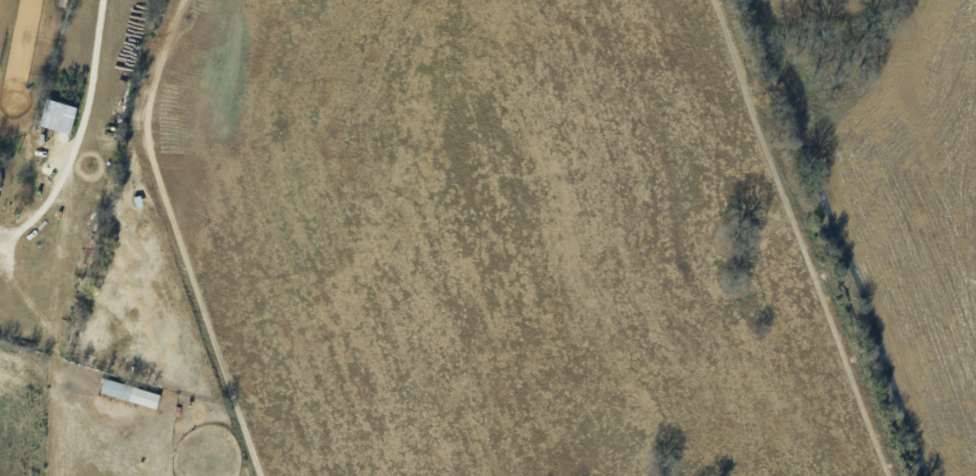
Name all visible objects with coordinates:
building: (59, 115)
road: (78, 133)
road: (838, 238)
building: (130, 392)

